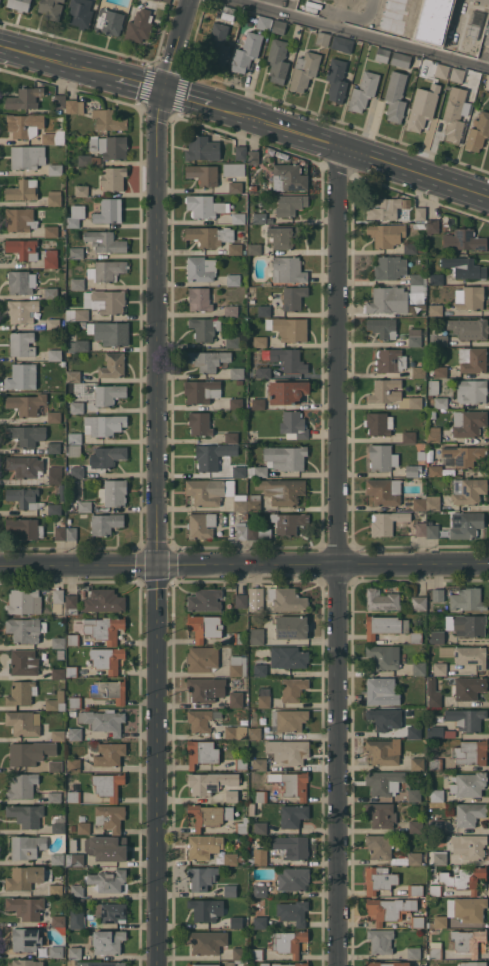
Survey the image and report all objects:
building: (62, 0)
building: (159, 0)
building: (166, 0)
building: (19, 4)
building: (345, 5)
building: (50, 8)
road: (374, 10)
building: (81, 12)
building: (228, 12)
road: (339, 12)
building: (397, 16)
road: (418, 17)
building: (109, 21)
building: (264, 22)
building: (438, 22)
road: (458, 23)
building: (140, 26)
building: (279, 26)
park: (472, 30)
road: (373, 32)
building: (322, 38)
building: (342, 43)
building: (485, 43)
building: (218, 44)
building: (246, 51)
building: (382, 54)
building: (401, 59)
building: (278, 60)
road: (58, 62)
building: (304, 70)
building: (441, 70)
building: (457, 74)
building: (337, 80)
road: (139, 84)
traffic signals: (163, 91)
building: (363, 91)
building: (395, 96)
building: (24, 97)
road: (188, 99)
building: (60, 100)
building: (75, 106)
building: (422, 111)
building: (454, 114)
building: (61, 116)
building: (108, 120)
building: (25, 124)
building: (478, 132)
building: (53, 137)
building: (108, 145)
building: (202, 148)
road: (351, 151)
building: (240, 152)
building: (27, 156)
building: (253, 157)
building: (88, 159)
building: (55, 169)
building: (234, 169)
building: (203, 174)
building: (289, 177)
building: (113, 178)
building: (235, 186)
building: (252, 187)
building: (22, 189)
building: (81, 190)
building: (54, 197)
building: (290, 204)
building: (205, 206)
building: (385, 209)
building: (108, 211)
building: (420, 213)
building: (75, 215)
building: (238, 217)
building: (259, 217)
building: (20, 219)
building: (419, 225)
building: (432, 225)
building: (51, 230)
building: (386, 234)
building: (209, 235)
building: (284, 235)
building: (464, 239)
building: (105, 241)
building: (410, 247)
building: (23, 248)
building: (235, 248)
building: (254, 248)
building: (76, 252)
building: (51, 258)
building: (390, 267)
building: (464, 267)
building: (200, 268)
building: (288, 269)
building: (107, 270)
building: (435, 278)
building: (233, 279)
building: (418, 279)
building: (21, 282)
building: (77, 283)
building: (419, 288)
building: (50, 292)
building: (294, 297)
building: (470, 297)
building: (199, 298)
building: (392, 299)
building: (105, 301)
building: (435, 309)
building: (22, 310)
building: (231, 310)
building: (264, 310)
building: (77, 314)
building: (53, 323)
building: (203, 327)
building: (382, 327)
building: (289, 328)
building: (473, 328)
building: (110, 332)
building: (414, 337)
building: (440, 337)
building: (260, 340)
building: (232, 341)
building: (22, 343)
building: (78, 345)
building: (55, 354)
building: (285, 358)
building: (207, 359)
building: (472, 359)
building: (390, 360)
building: (112, 365)
building: (418, 371)
building: (440, 371)
building: (237, 372)
building: (263, 372)
building: (22, 376)
building: (73, 376)
building: (73, 387)
building: (433, 387)
building: (201, 390)
building: (238, 391)
building: (287, 391)
building: (471, 391)
building: (109, 393)
building: (392, 393)
building: (441, 402)
building: (236, 403)
building: (258, 403)
building: (28, 404)
building: (75, 407)
building: (54, 416)
building: (468, 422)
building: (200, 423)
building: (379, 423)
building: (104, 424)
building: (294, 424)
building: (26, 434)
building: (433, 434)
building: (409, 436)
building: (75, 437)
building: (231, 437)
building: (54, 447)
building: (74, 449)
building: (464, 454)
building: (108, 455)
building: (213, 455)
building: (431, 455)
building: (286, 457)
building: (381, 457)
building: (25, 466)
building: (413, 470)
building: (435, 470)
building: (75, 471)
building: (239, 471)
building: (257, 471)
building: (55, 474)
road: (157, 480)
building: (206, 490)
building: (282, 490)
building: (384, 490)
building: (468, 490)
building: (62, 492)
building: (113, 492)
building: (24, 497)
building: (254, 502)
building: (420, 502)
building: (433, 502)
building: (240, 504)
building: (85, 505)
building: (54, 508)
building: (386, 521)
building: (106, 522)
building: (289, 522)
building: (201, 524)
building: (467, 525)
building: (22, 528)
building: (421, 528)
building: (432, 530)
building: (72, 532)
building: (241, 532)
building: (259, 532)
building: (60, 533)
road: (339, 556)
road: (244, 564)
traffic signals: (158, 565)
building: (438, 594)
building: (256, 597)
building: (58, 598)
building: (205, 599)
building: (286, 599)
building: (382, 599)
building: (467, 599)
building: (23, 600)
building: (103, 600)
building: (241, 600)
building: (419, 602)
building: (71, 603)
building: (467, 624)
building: (385, 625)
building: (204, 626)
building: (292, 626)
building: (25, 628)
building: (101, 628)
building: (256, 635)
building: (240, 637)
building: (416, 637)
building: (437, 637)
building: (73, 639)
building: (58, 642)
building: (446, 651)
building: (471, 655)
building: (288, 656)
building: (384, 656)
building: (107, 658)
building: (202, 658)
building: (26, 661)
building: (237, 665)
building: (260, 667)
building: (418, 668)
building: (439, 668)
building: (72, 671)
building: (58, 673)
building: (468, 687)
building: (206, 688)
building: (293, 688)
building: (109, 690)
building: (382, 690)
building: (21, 692)
building: (433, 692)
building: (264, 697)
building: (236, 699)
building: (56, 701)
building: (74, 701)
building: (384, 718)
building: (466, 718)
building: (202, 719)
building: (288, 719)
building: (104, 720)
building: (23, 722)
building: (414, 731)
building: (437, 731)
building: (236, 732)
building: (74, 733)
building: (255, 733)
building: (58, 734)
building: (288, 751)
building: (384, 751)
building: (30, 752)
building: (201, 752)
building: (470, 752)
building: (109, 754)
building: (241, 763)
building: (418, 763)
building: (435, 763)
building: (74, 764)
building: (259, 764)
building: (55, 765)
building: (210, 782)
building: (385, 782)
building: (292, 783)
building: (468, 783)
building: (108, 784)
building: (21, 785)
building: (73, 793)
building: (415, 795)
building: (437, 795)
building: (54, 796)
building: (232, 796)
building: (260, 796)
building: (469, 813)
building: (26, 814)
building: (381, 814)
building: (209, 815)
building: (293, 815)
building: (110, 816)
building: (82, 818)
building: (58, 824)
building: (242, 826)
building: (415, 826)
building: (434, 826)
building: (83, 827)
building: (260, 827)
building: (73, 828)
building: (72, 845)
building: (204, 845)
building: (469, 845)
building: (27, 846)
building: (379, 846)
building: (110, 847)
building: (295, 847)
building: (260, 856)
building: (57, 858)
building: (414, 858)
building: (440, 858)
building: (75, 859)
building: (230, 859)
building: (27, 877)
building: (201, 877)
building: (464, 878)
building: (293, 879)
building: (379, 879)
building: (108, 880)
building: (56, 889)
building: (260, 889)
building: (415, 889)
building: (75, 890)
building: (230, 890)
building: (435, 890)
building: (27, 907)
building: (389, 908)
building: (467, 908)
building: (206, 909)
building: (293, 911)
building: (111, 912)
building: (76, 918)
building: (58, 920)
building: (417, 921)
building: (440, 921)
building: (236, 922)
building: (260, 922)
building: (26, 939)
building: (380, 940)
building: (108, 941)
building: (207, 941)
building: (467, 941)
building: (291, 942)
building: (56, 951)
building: (435, 952)
building: (75, 953)
building: (238, 953)
building: (257, 953)
building: (413, 953)
building: (26, 962)
building: (232, 962)
building: (380, 963)
building: (472, 963)
building: (112, 964)
building: (201, 964)
building: (284, 964)

